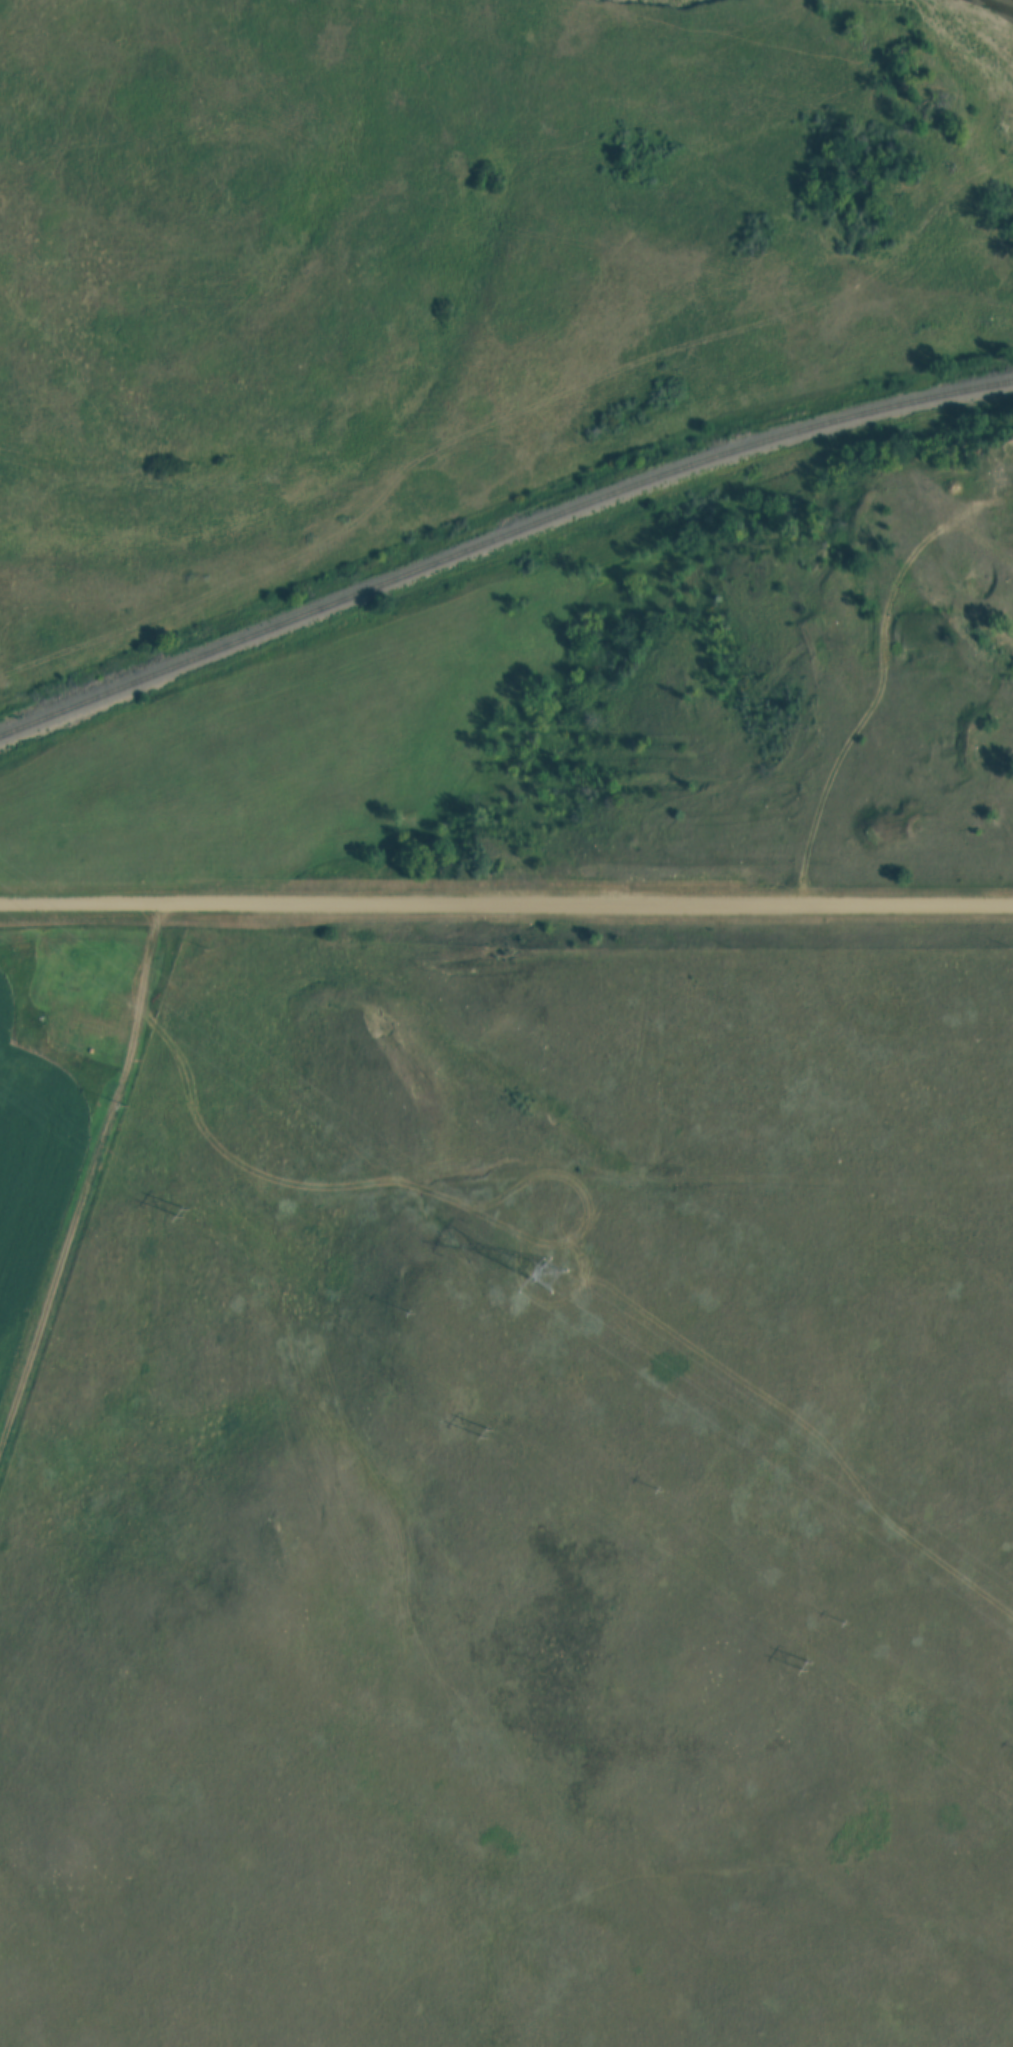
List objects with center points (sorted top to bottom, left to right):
railway: (500, 542)
road: (506, 903)
road: (88, 1179)
power tower: (553, 1278)

